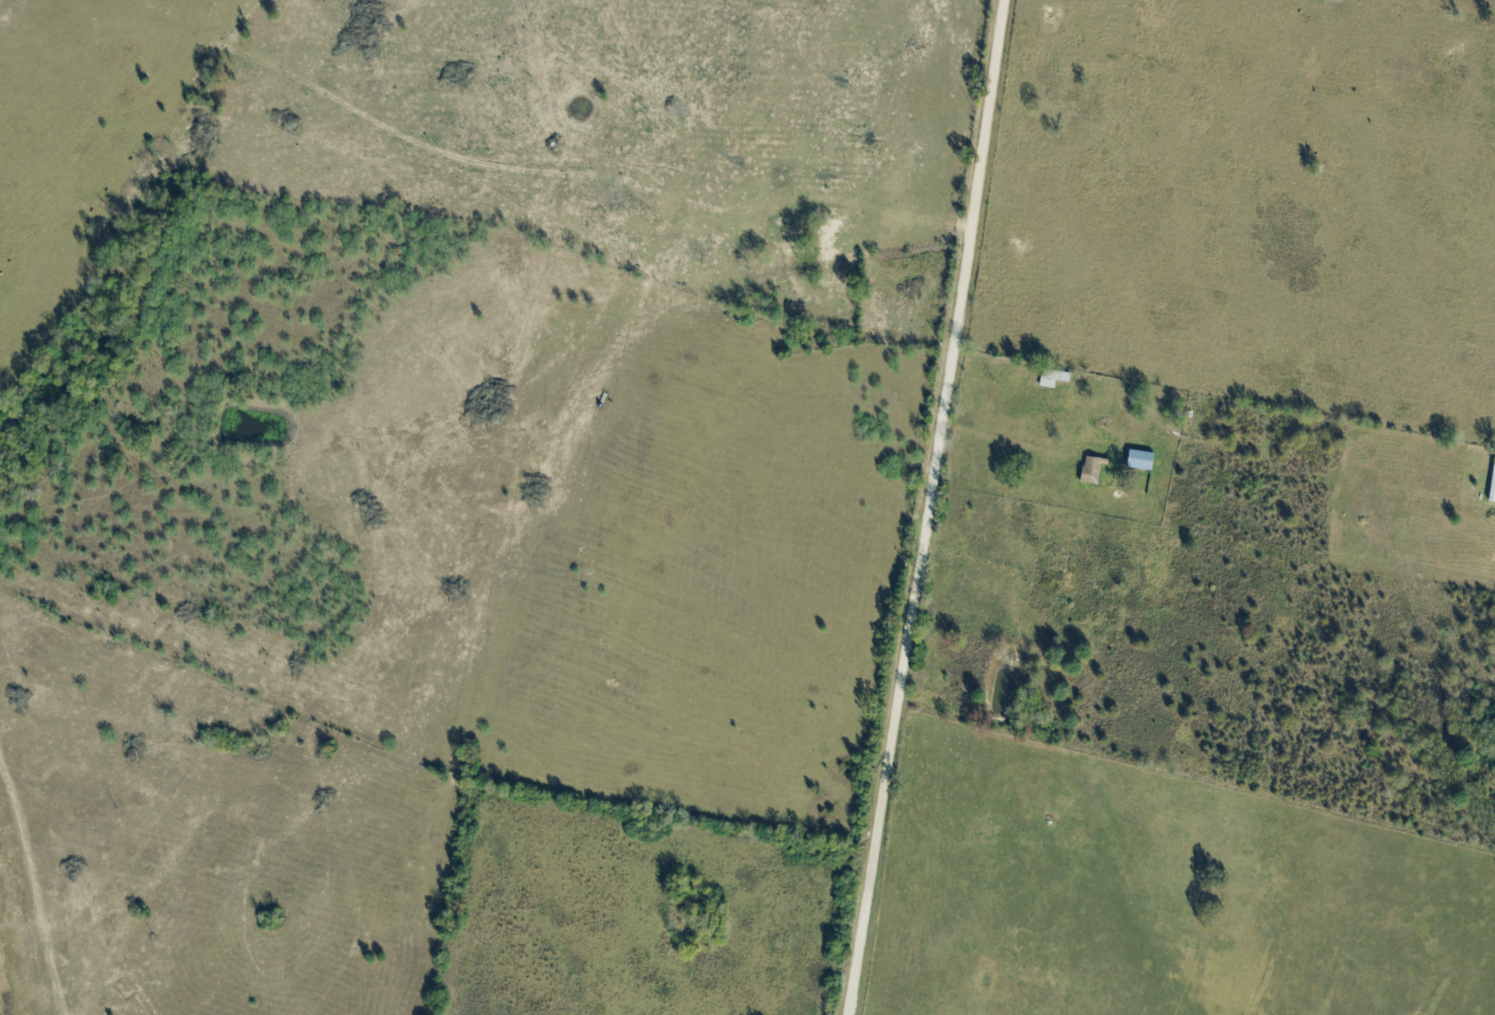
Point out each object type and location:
building: (1056, 379)
building: (1095, 472)
building: (1494, 497)
road: (931, 507)
road: (43, 920)

